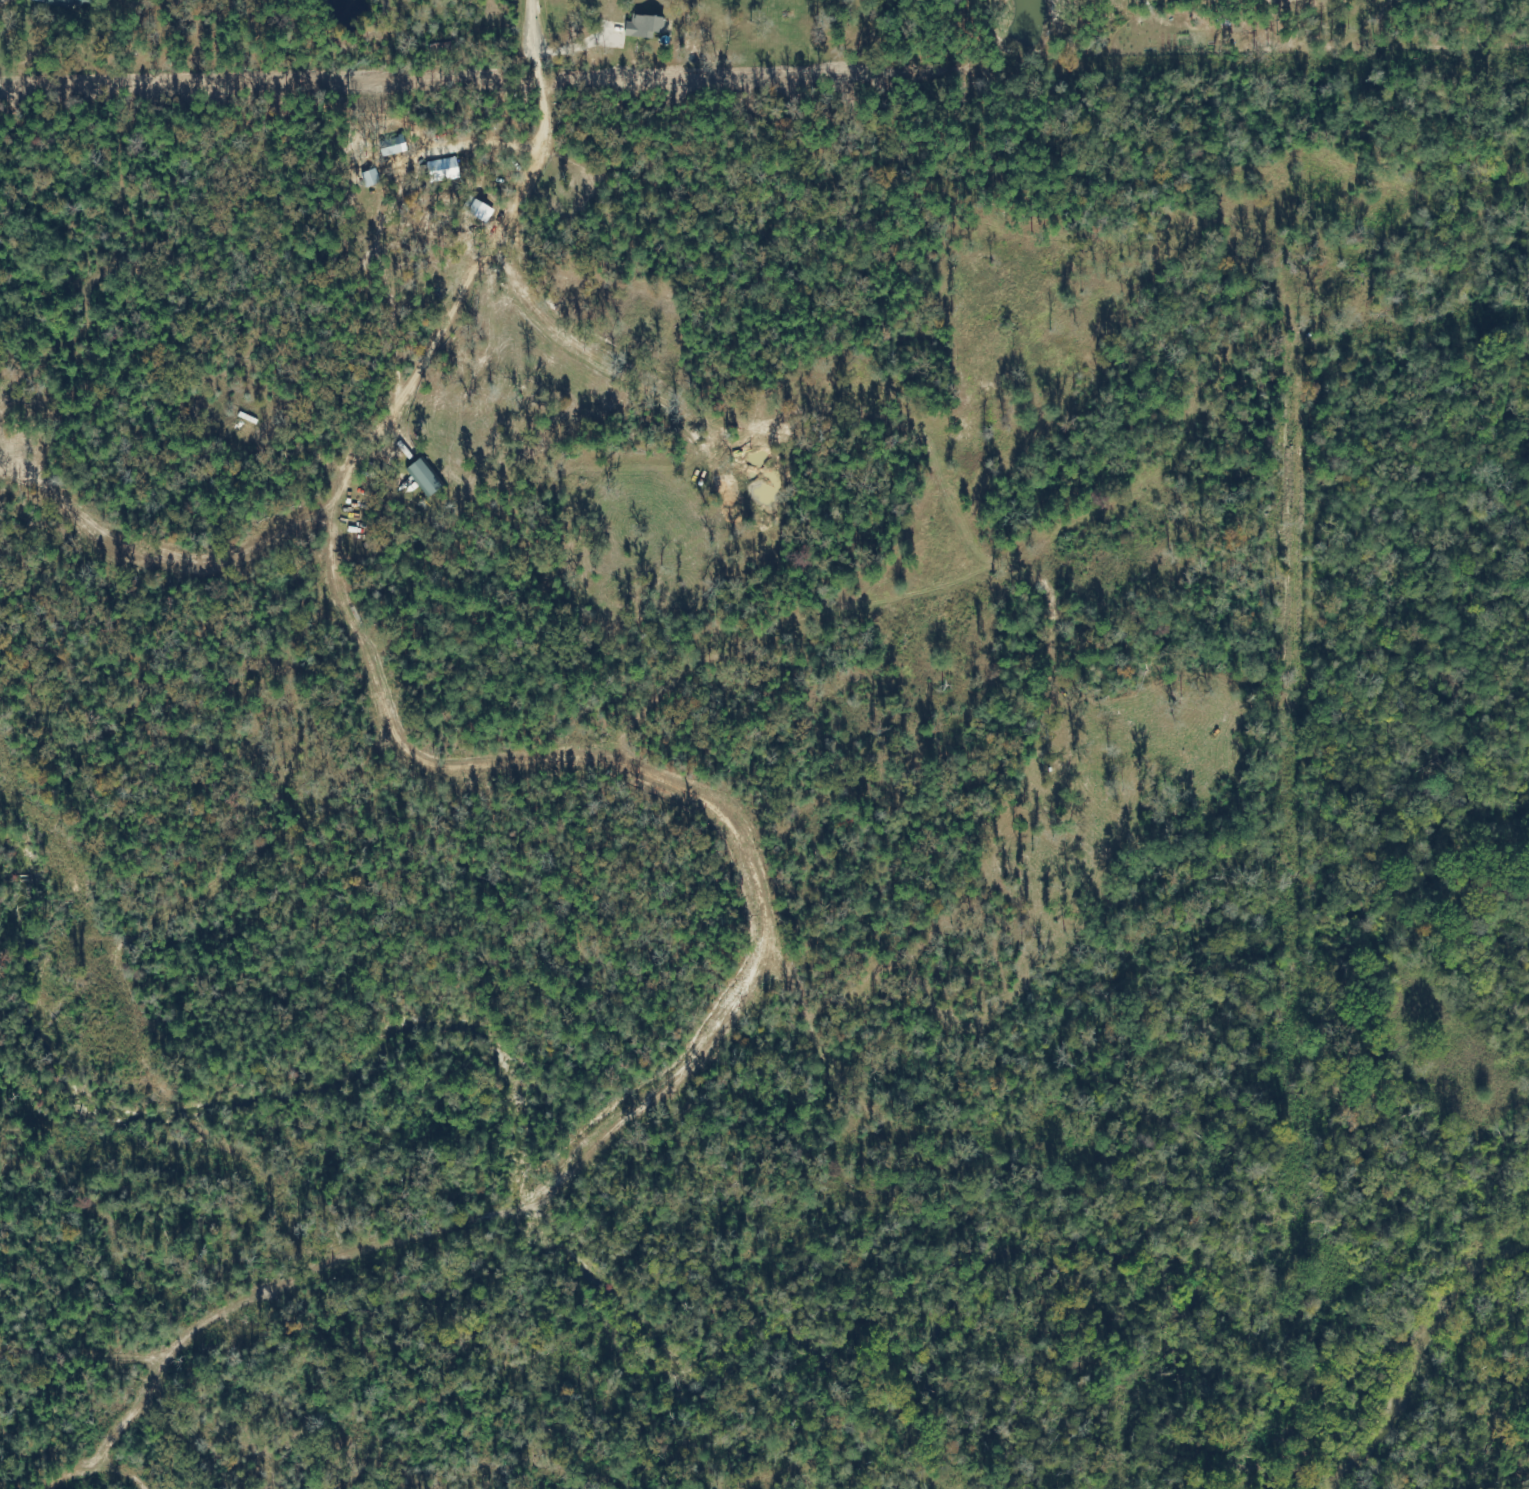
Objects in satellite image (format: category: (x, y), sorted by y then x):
building: (68, 2)
building: (643, 26)
road: (565, 42)
building: (444, 170)
building: (427, 477)

